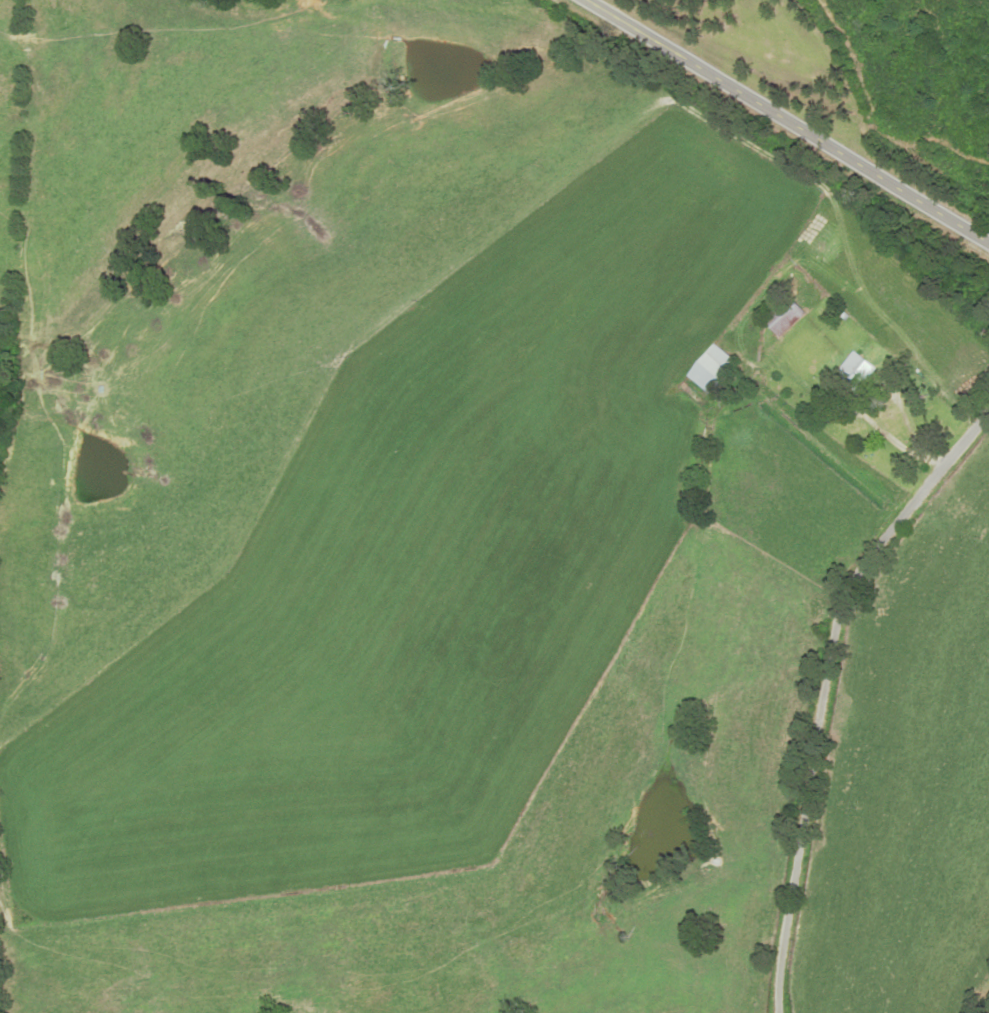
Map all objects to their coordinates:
road: (680, 59)
road: (884, 181)
building: (791, 316)
building: (867, 370)
building: (717, 371)
road: (826, 687)

